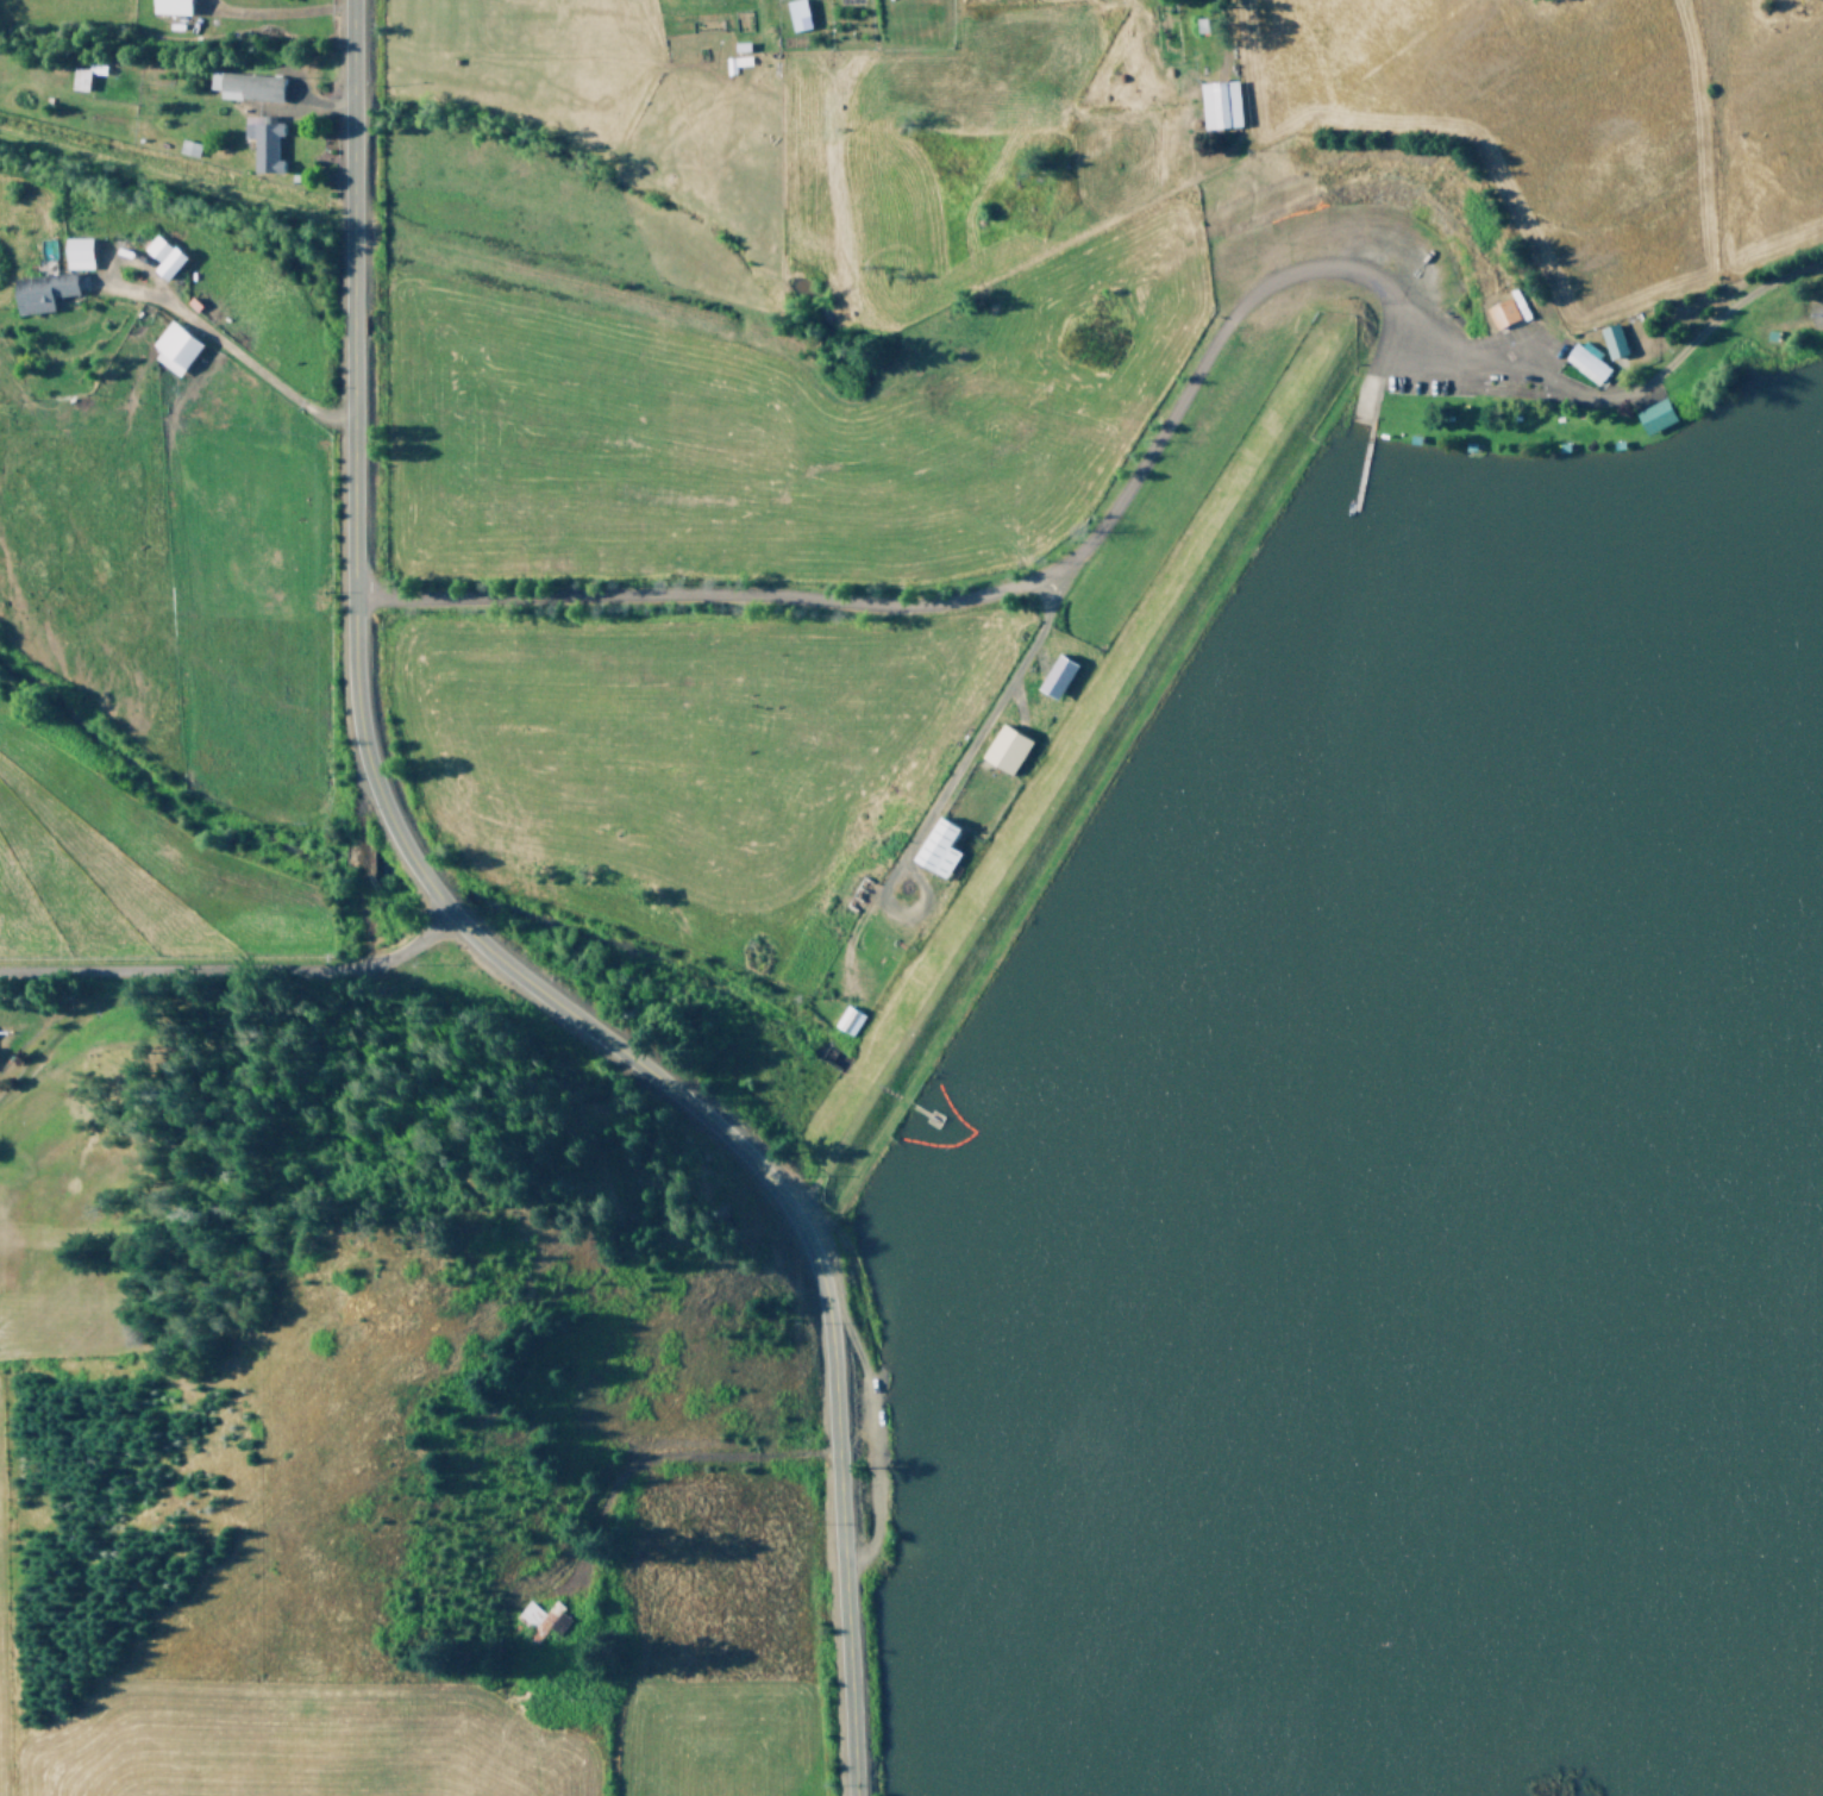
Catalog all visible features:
building: (170, 5)
building: (796, 14)
building: (245, 86)
building: (1219, 102)
building: (262, 140)
building: (76, 251)
building: (162, 255)
building: (40, 289)
building: (1501, 311)
building: (1611, 339)
building: (174, 346)
road: (1371, 358)
building: (1584, 359)
building: (1654, 414)
road: (350, 427)
road: (1141, 449)
building: (1055, 675)
building: (1004, 747)
dam: (1091, 795)
building: (936, 846)
road: (421, 875)
road: (232, 969)
road: (816, 1268)
building: (539, 1617)

